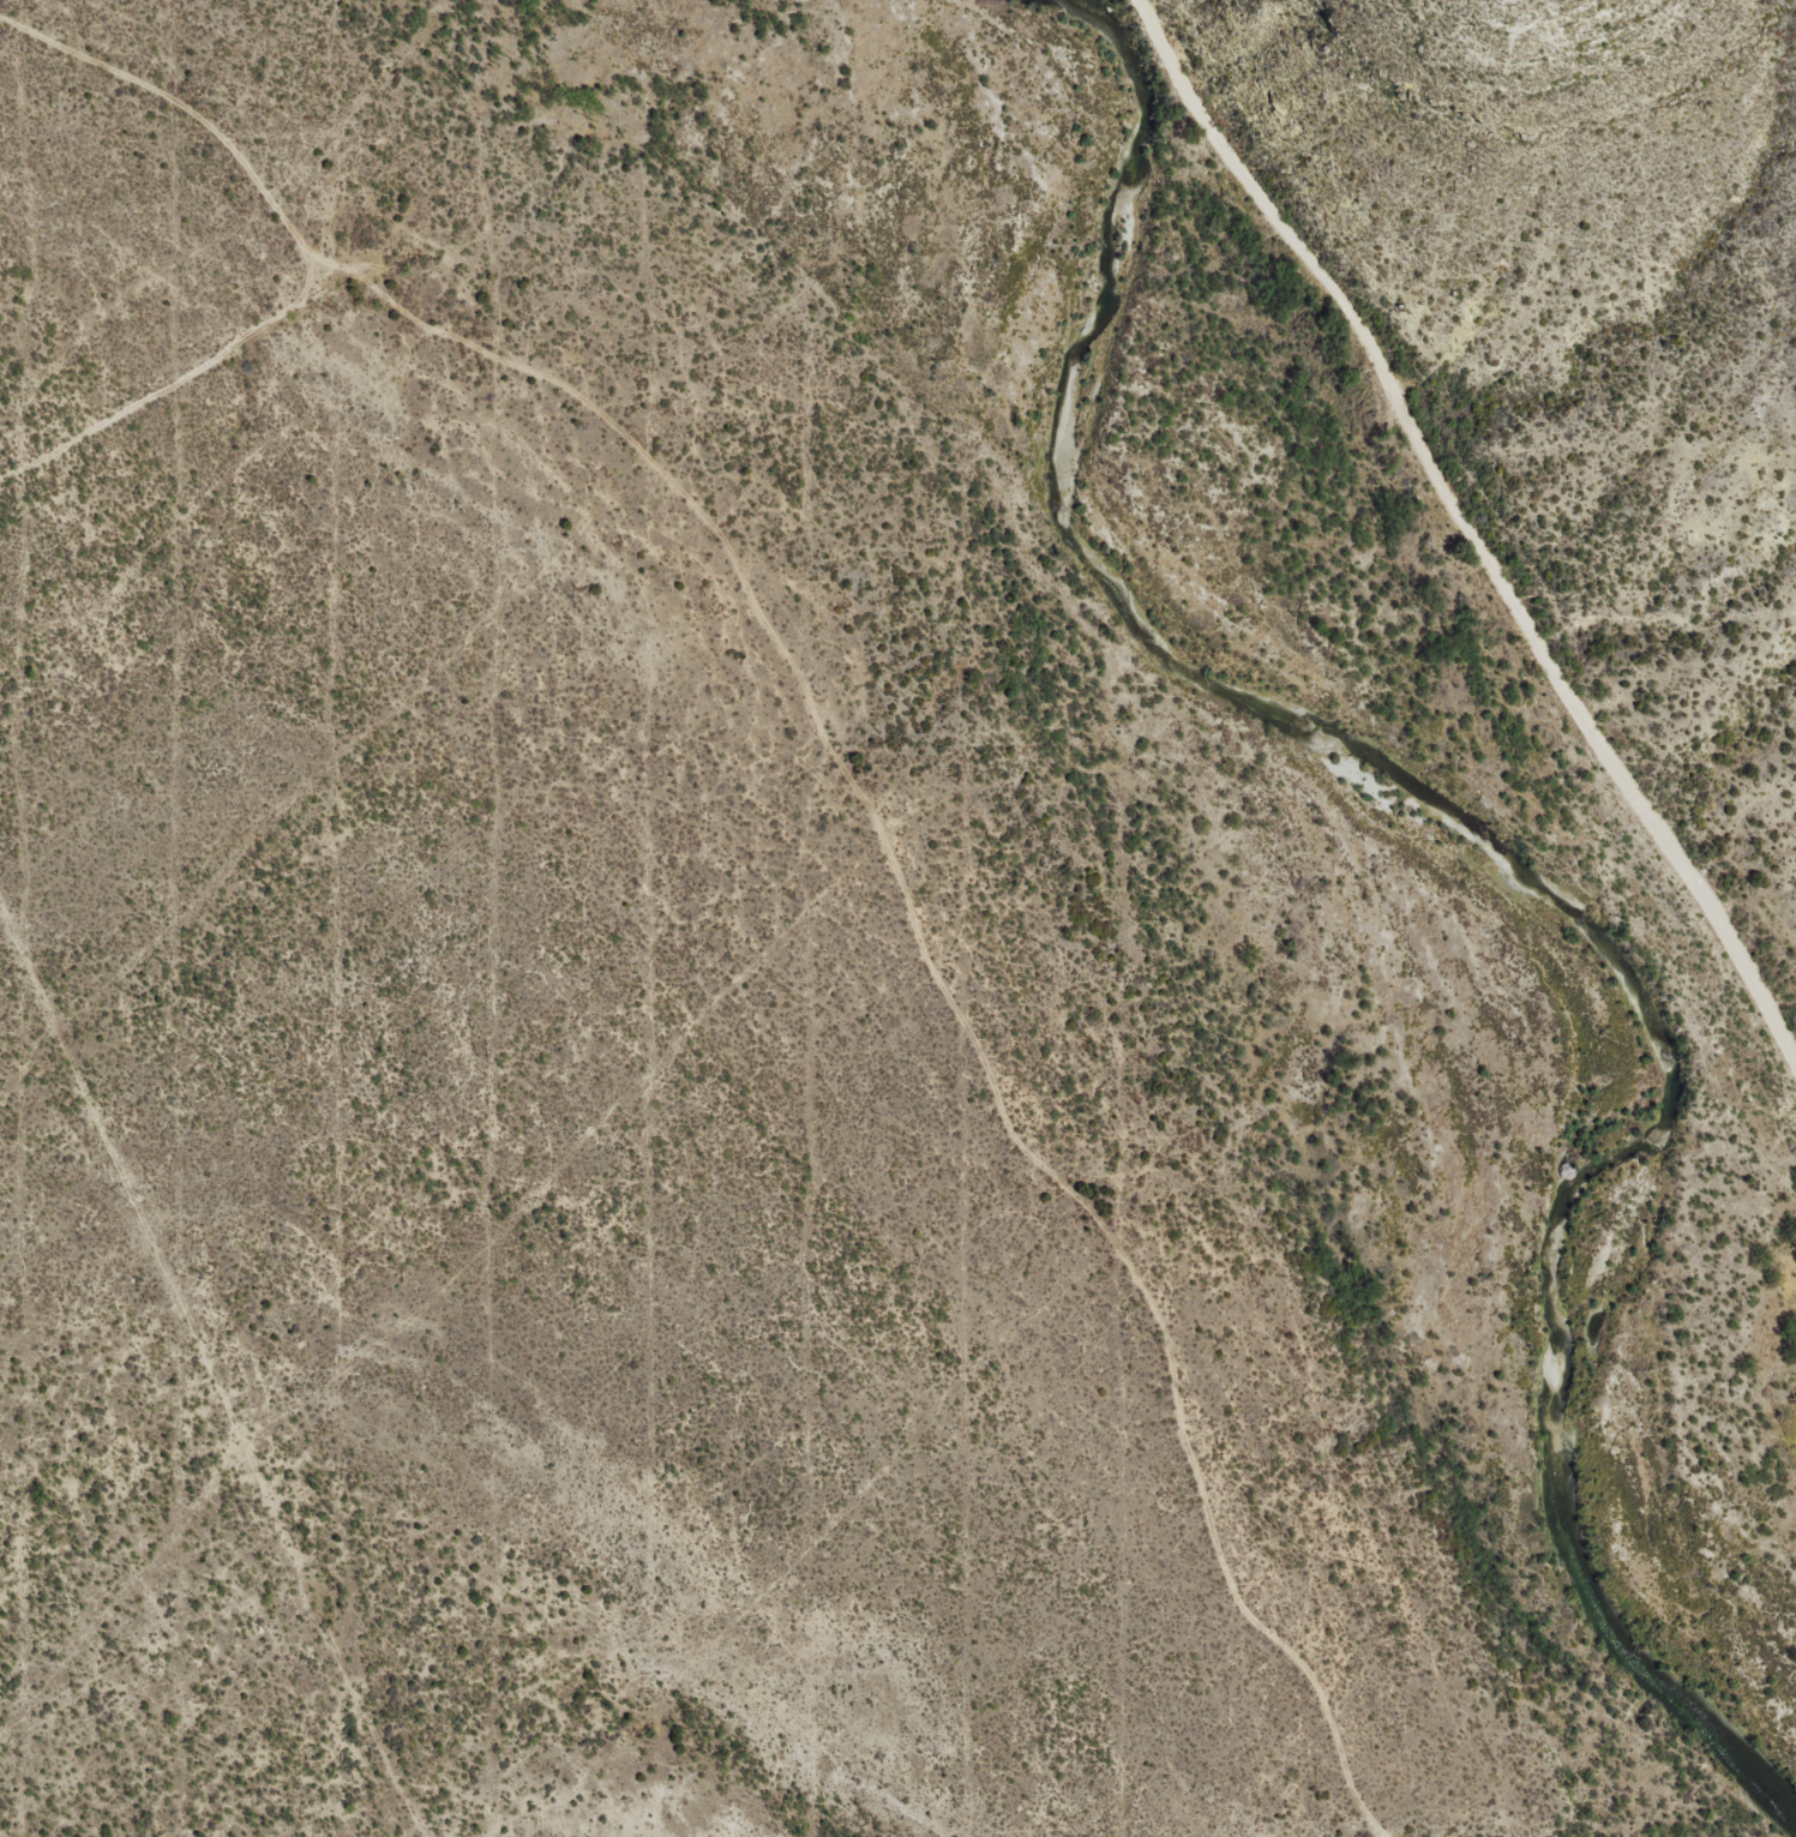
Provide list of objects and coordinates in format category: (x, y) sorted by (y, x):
road: (1468, 550)
river: (1478, 871)
power tower: (134, 1201)
power tower: (326, 1625)

